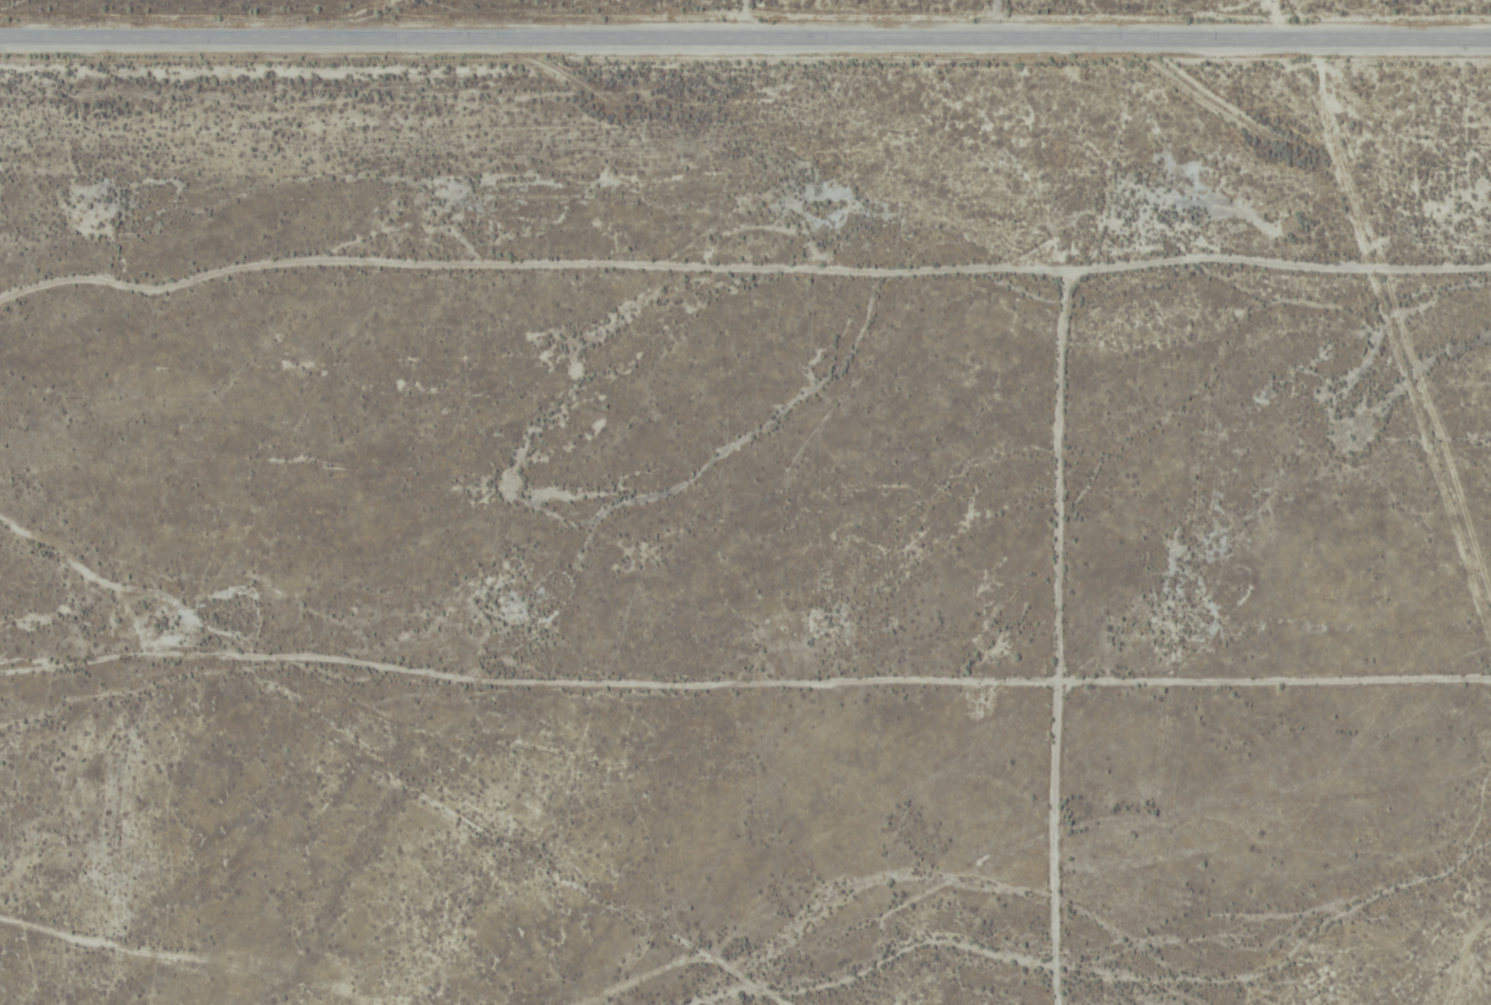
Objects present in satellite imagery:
road: (745, 39)
road: (1069, 456)

